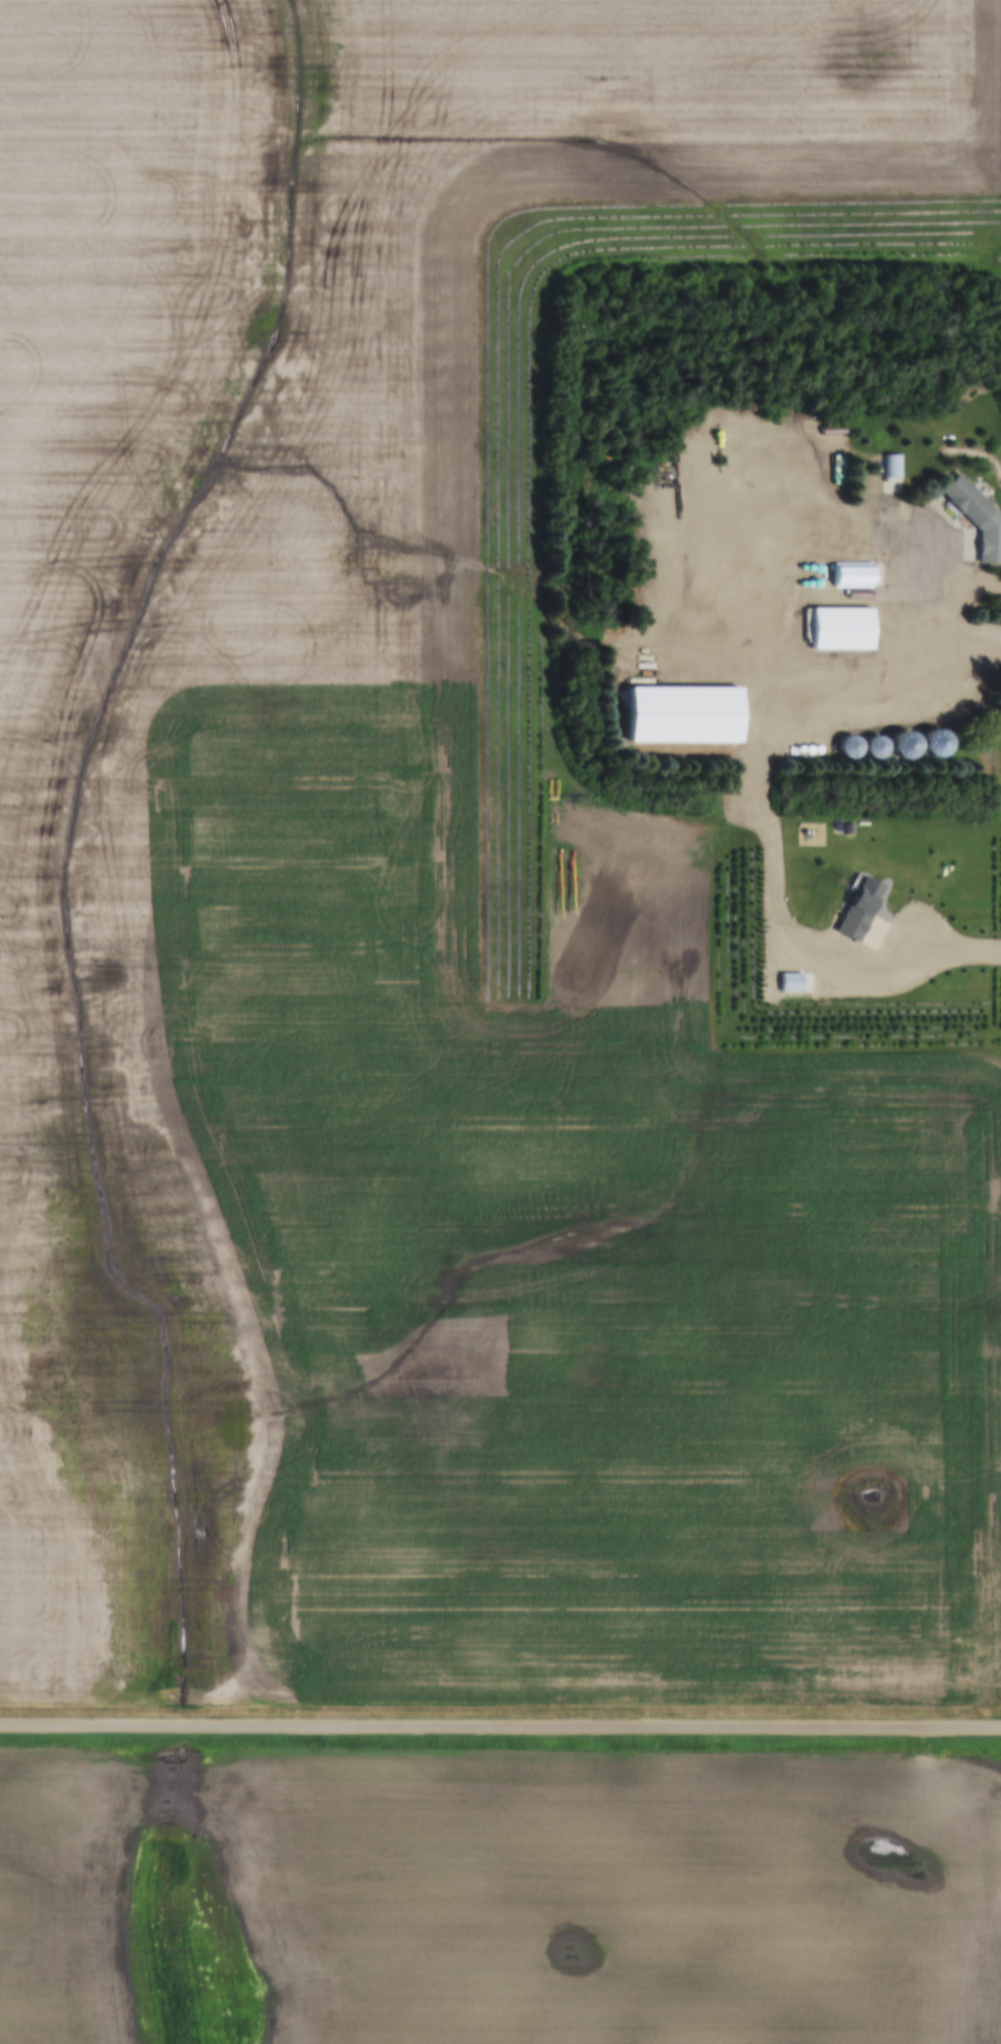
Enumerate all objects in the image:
building: (891, 466)
building: (977, 519)
road: (900, 522)
road: (975, 566)
building: (852, 578)
building: (840, 630)
road: (929, 642)
building: (682, 716)
building: (902, 747)
building: (933, 747)
building: (848, 749)
building: (874, 749)
road: (500, 1729)

